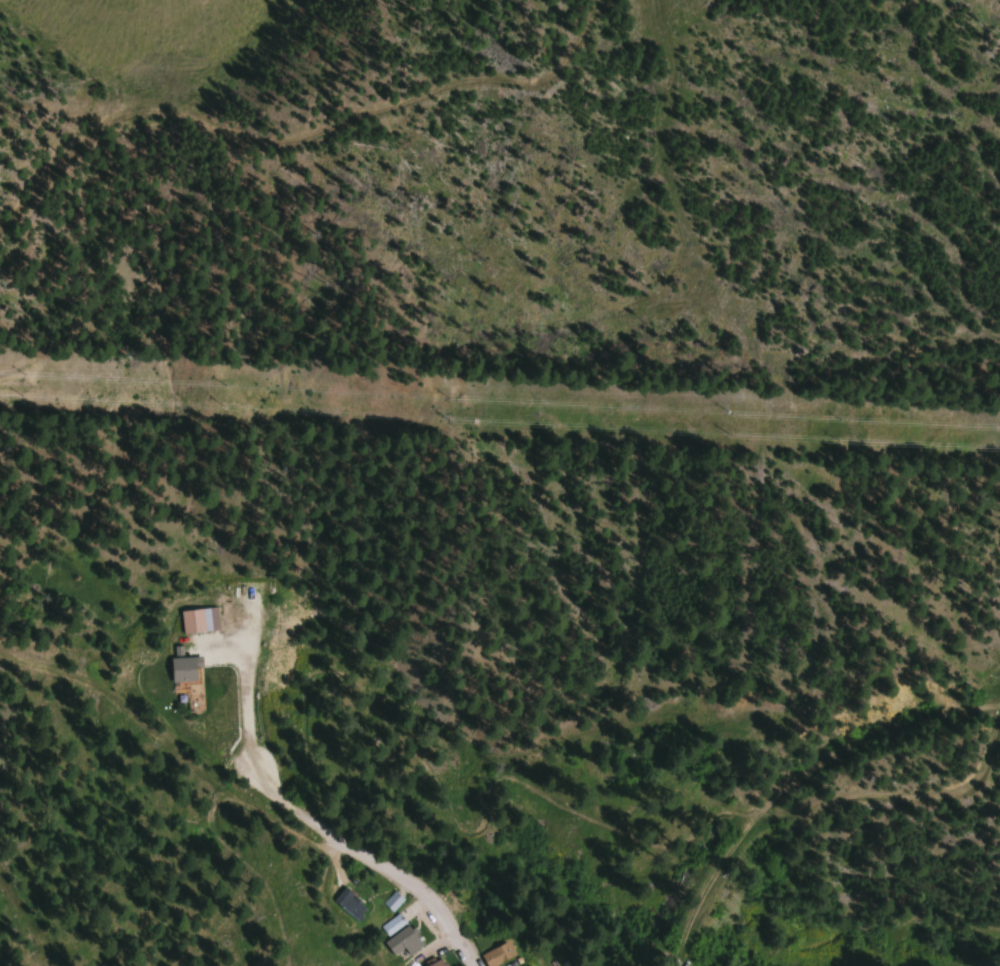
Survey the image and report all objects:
building: (199, 621)
building: (183, 670)
road: (901, 726)
road: (349, 844)
building: (392, 900)
building: (349, 903)
building: (392, 924)
building: (402, 941)
building: (497, 954)
building: (436, 963)
building: (576, 964)

